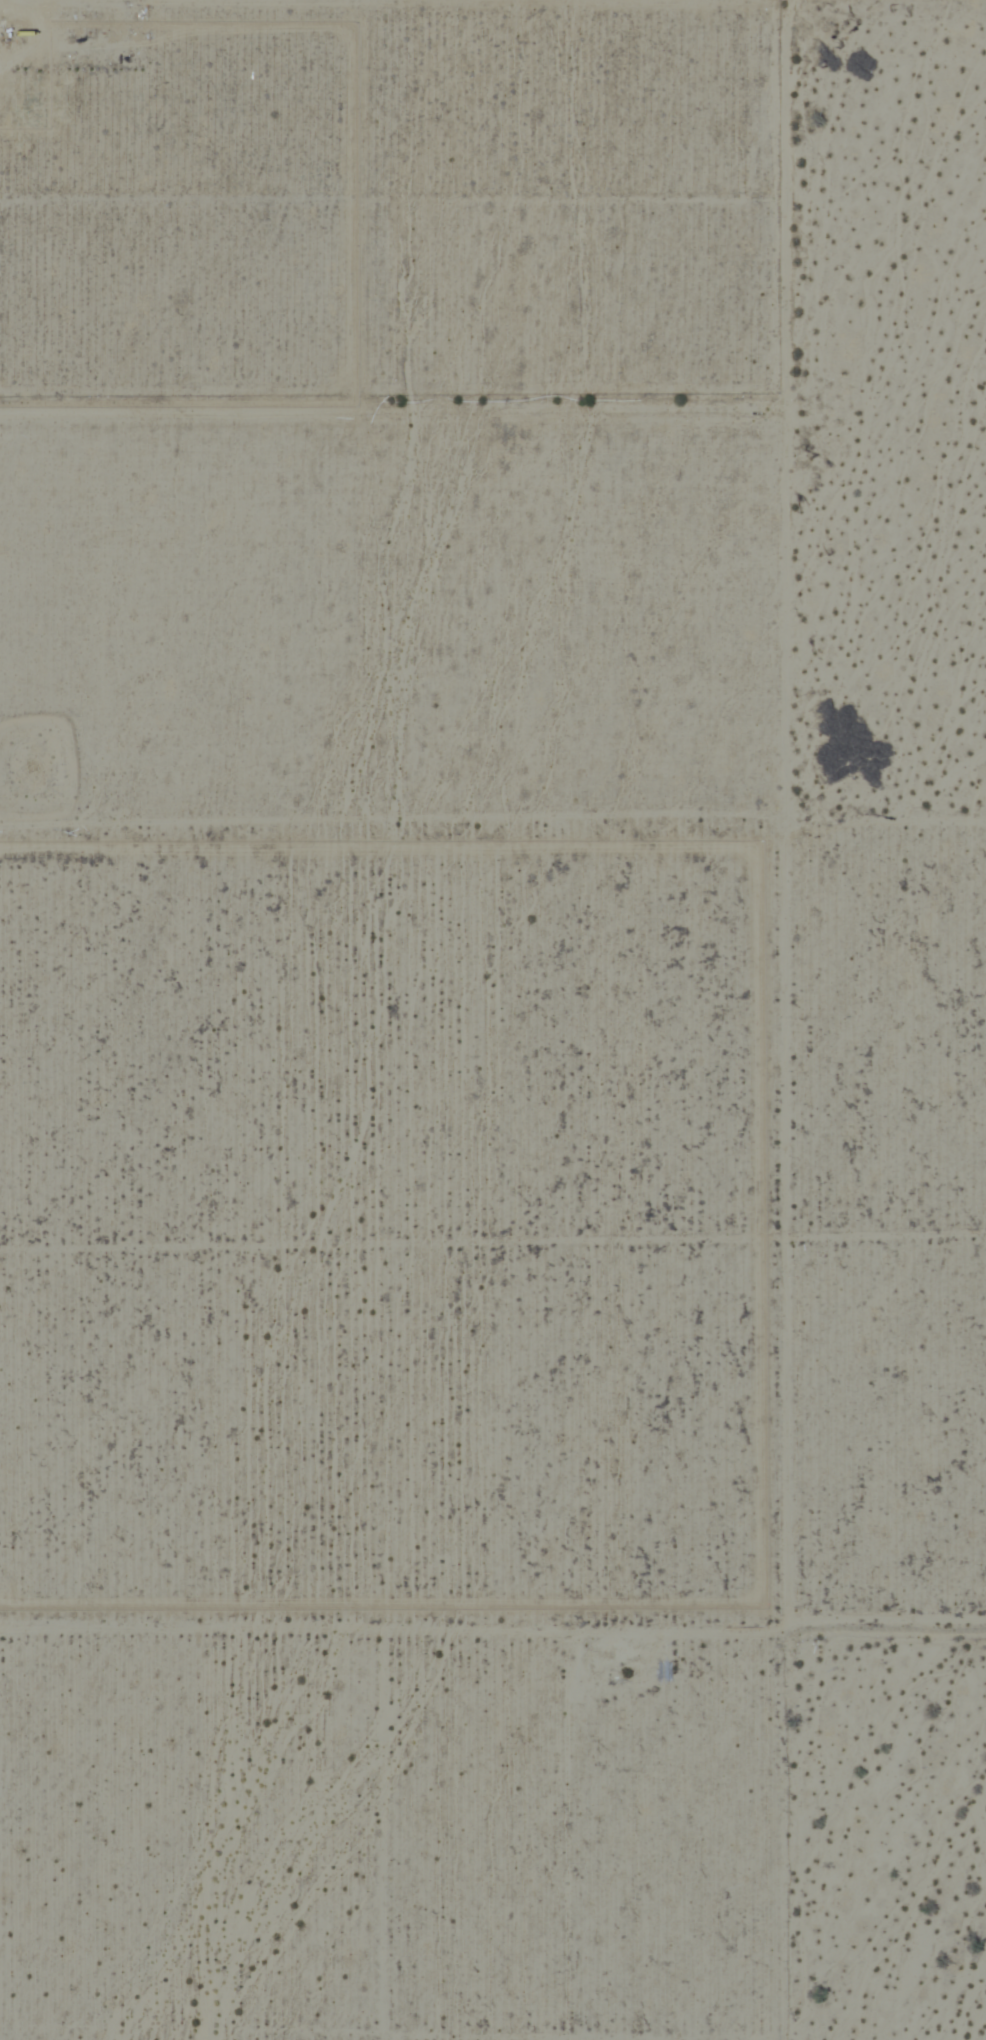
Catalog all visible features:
crop: (475, 983)

